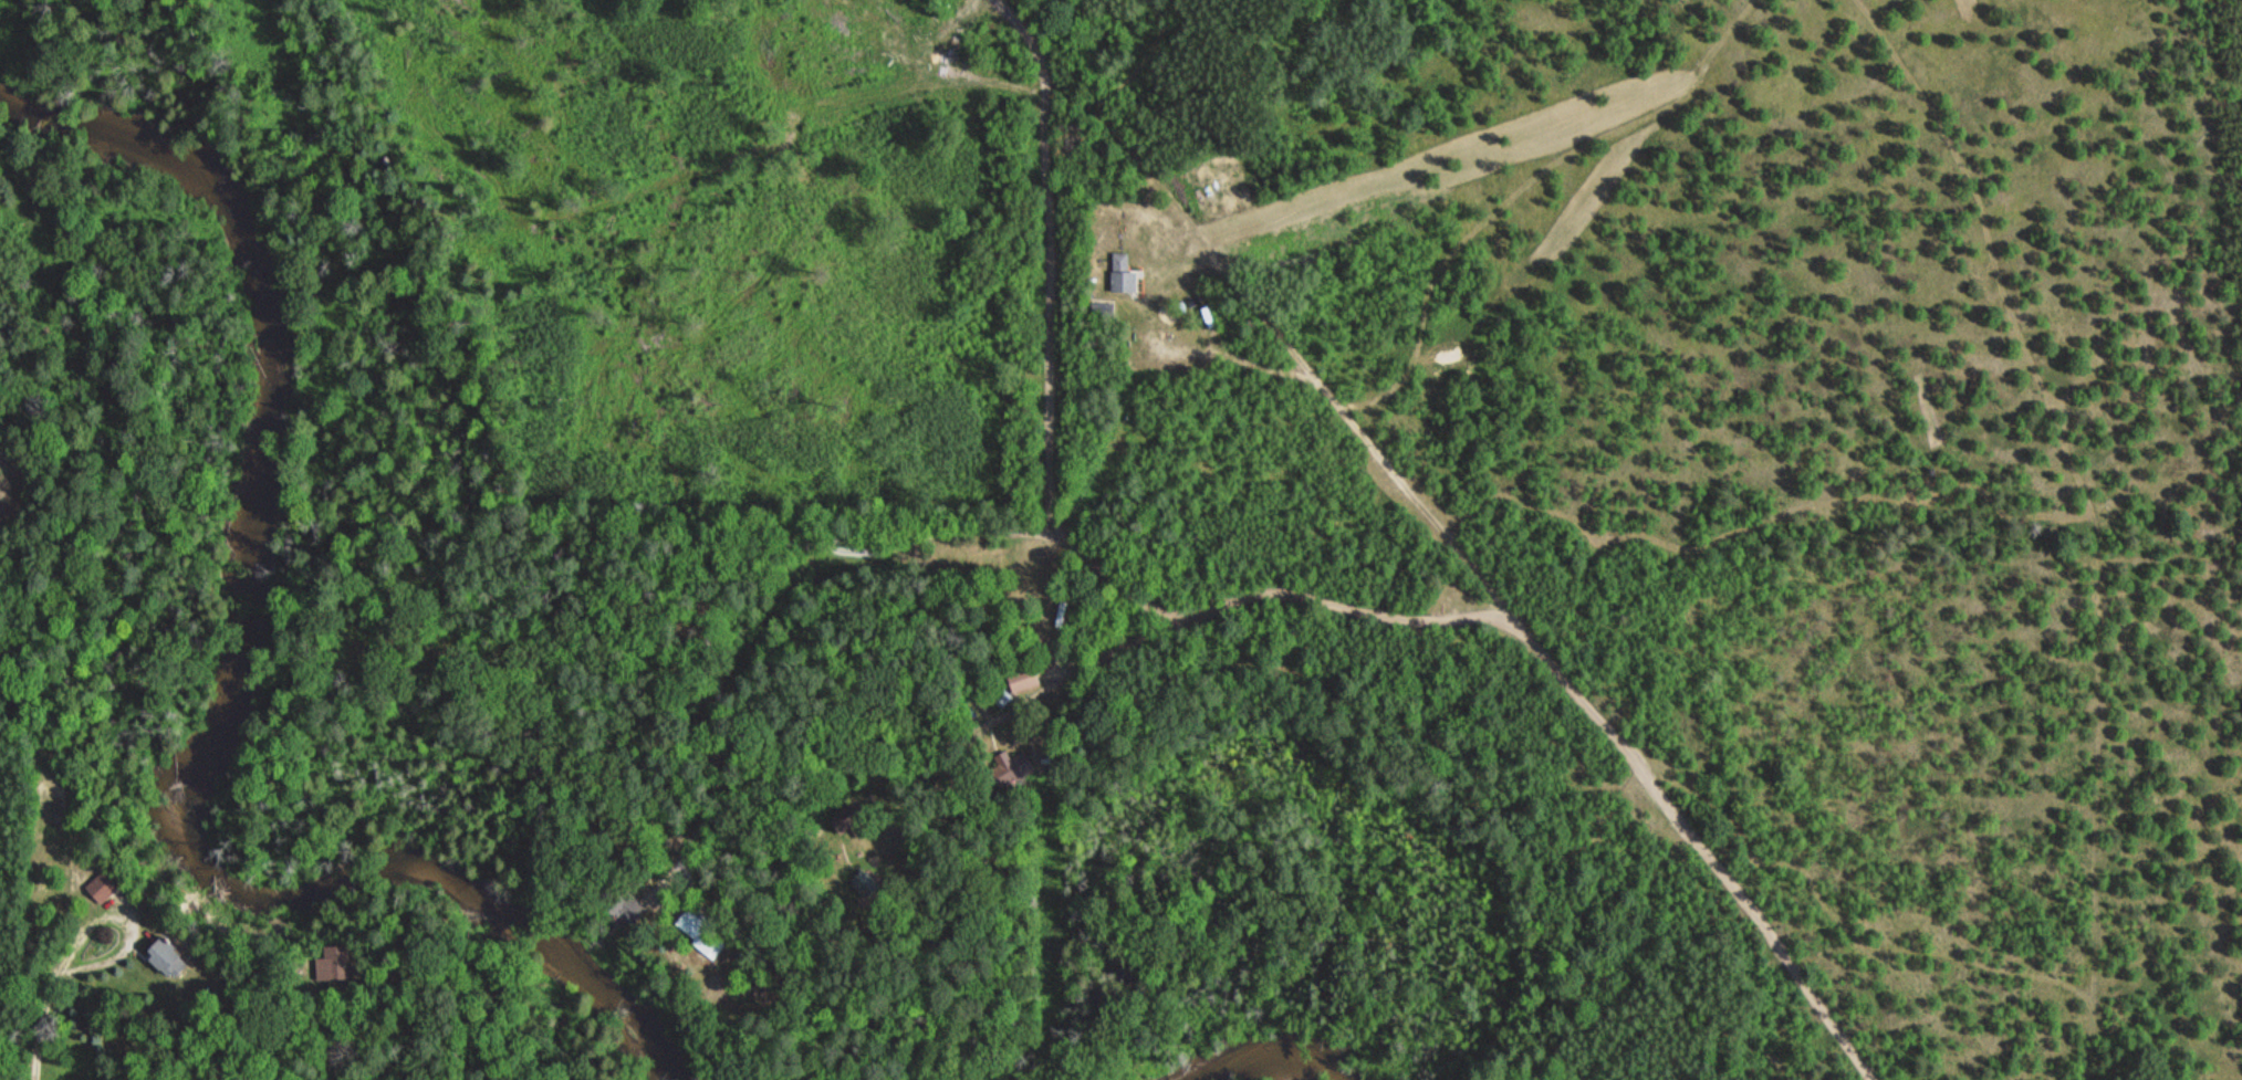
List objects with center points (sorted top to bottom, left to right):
building: (1122, 274)
building: (1102, 310)
road: (1355, 452)
road: (1441, 619)
road: (2124, 653)
building: (1021, 677)
river: (239, 693)
building: (1002, 696)
building: (1010, 767)
building: (849, 821)
road: (1195, 867)
building: (866, 884)
building: (102, 887)
building: (619, 902)
road: (132, 923)
building: (699, 931)
building: (166, 956)
road: (875, 961)
building: (336, 962)
road: (37, 1020)
river: (1263, 1063)

